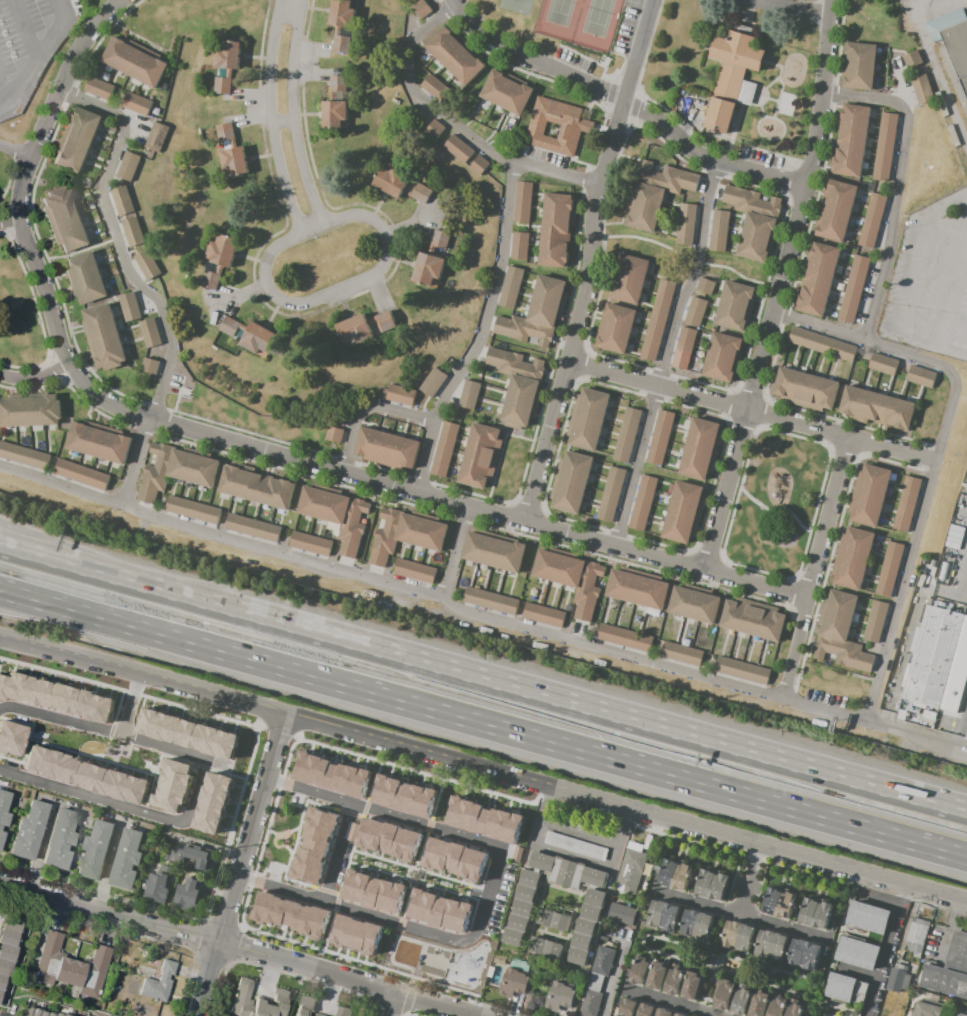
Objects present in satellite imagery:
park: (515, 6)
road: (794, 7)
building: (421, 8)
park: (562, 12)
park: (600, 17)
building: (340, 23)
road: (21, 29)
parking lot: (28, 45)
building: (957, 52)
building: (455, 54)
road: (34, 57)
building: (912, 58)
building: (134, 61)
building: (226, 66)
building: (859, 66)
building: (732, 76)
road: (937, 77)
building: (435, 88)
building: (99, 89)
building: (922, 89)
building: (507, 93)
road: (417, 95)
road: (4, 96)
building: (137, 103)
road: (624, 104)
building: (335, 106)
road: (296, 114)
road: (272, 119)
building: (435, 128)
building: (576, 128)
building: (158, 137)
building: (76, 139)
building: (850, 140)
road: (17, 147)
building: (885, 147)
building: (458, 148)
building: (231, 152)
building: (128, 165)
building: (479, 165)
road: (555, 175)
building: (667, 175)
road: (898, 182)
building: (401, 185)
building: (122, 200)
building: (523, 202)
building: (643, 206)
building: (835, 210)
building: (64, 219)
road: (20, 221)
building: (753, 221)
building: (874, 221)
road: (10, 222)
building: (685, 225)
building: (556, 230)
building: (133, 231)
building: (719, 231)
road: (118, 245)
road: (280, 245)
building: (519, 245)
road: (689, 258)
building: (219, 259)
building: (431, 261)
road: (593, 261)
building: (147, 264)
road: (692, 277)
building: (817, 277)
building: (86, 278)
building: (629, 278)
parking lot: (931, 283)
road: (910, 284)
building: (510, 286)
building: (705, 286)
road: (781, 288)
building: (854, 288)
road: (950, 290)
building: (129, 306)
building: (734, 306)
building: (695, 312)
building: (537, 313)
building: (657, 319)
road: (820, 326)
building: (363, 327)
building: (615, 328)
building: (149, 333)
road: (481, 334)
building: (226, 335)
building: (250, 336)
building: (103, 337)
building: (824, 345)
building: (684, 348)
building: (724, 357)
building: (884, 365)
building: (150, 366)
road: (950, 374)
building: (923, 378)
road: (35, 379)
building: (432, 382)
building: (517, 385)
building: (807, 390)
building: (400, 394)
building: (470, 396)
road: (364, 408)
building: (878, 408)
building: (29, 410)
road: (752, 412)
building: (587, 419)
building: (334, 434)
building: (627, 434)
building: (660, 437)
building: (98, 441)
building: (701, 448)
building: (386, 449)
building: (445, 449)
building: (480, 455)
building: (23, 456)
road: (135, 464)
road: (635, 467)
building: (174, 470)
building: (81, 475)
building: (570, 482)
building: (256, 486)
road: (61, 487)
building: (610, 494)
building: (868, 495)
building: (643, 502)
park: (779, 504)
building: (906, 504)
road: (477, 510)
building: (683, 511)
road: (776, 511)
building: (195, 512)
building: (335, 514)
road: (828, 519)
building: (254, 530)
building: (405, 533)
building: (954, 540)
building: (313, 545)
parking lot: (957, 550)
building: (493, 552)
road: (457, 555)
building: (853, 557)
road: (102, 562)
building: (889, 569)
building: (414, 570)
building: (943, 571)
building: (931, 572)
road: (102, 574)
building: (571, 577)
building: (920, 580)
building: (636, 588)
road: (901, 594)
building: (491, 601)
road: (450, 604)
building: (693, 604)
building: (903, 610)
building: (543, 615)
building: (753, 618)
building: (875, 621)
building: (840, 633)
building: (624, 638)
building: (870, 647)
road: (793, 651)
building: (681, 653)
building: (931, 655)
building: (742, 670)
building: (54, 697)
road: (130, 706)
road: (585, 707)
road: (823, 713)
building: (901, 714)
building: (928, 714)
road: (61, 716)
building: (921, 720)
road: (483, 724)
road: (959, 726)
building: (187, 732)
building: (966, 735)
building: (10, 737)
road: (917, 739)
road: (310, 748)
road: (318, 750)
road: (334, 754)
road: (339, 756)
road: (354, 760)
road: (363, 763)
road: (389, 770)
road: (397, 772)
road: (483, 772)
building: (331, 774)
building: (84, 775)
road: (405, 775)
road: (420, 779)
road: (429, 781)
building: (170, 783)
road: (369, 789)
road: (298, 791)
road: (462, 792)
road: (470, 793)
building: (403, 795)
road: (486, 799)
road: (491, 799)
parking lot: (294, 800)
building: (212, 801)
road: (507, 804)
road: (515, 806)
building: (4, 808)
road: (304, 813)
road: (352, 814)
road: (160, 817)
building: (485, 819)
road: (302, 822)
road: (428, 824)
building: (29, 830)
road: (288, 830)
road: (272, 832)
road: (288, 832)
building: (353, 832)
road: (581, 835)
road: (298, 837)
building: (2, 838)
building: (387, 838)
building: (61, 840)
road: (296, 842)
building: (314, 845)
road: (277, 846)
building: (574, 846)
road: (286, 847)
building: (96, 850)
road: (363, 850)
road: (333, 851)
road: (380, 851)
road: (371, 852)
building: (191, 856)
road: (379, 856)
road: (292, 858)
building: (454, 858)
road: (395, 859)
building: (127, 861)
road: (403, 861)
parking lot: (342, 862)
road: (335, 863)
road: (238, 866)
road: (289, 866)
building: (631, 866)
road: (358, 868)
road: (376, 869)
road: (366, 870)
road: (429, 870)
road: (446, 870)
building: (567, 871)
parking lot: (273, 872)
road: (428, 872)
road: (437, 872)
road: (374, 873)
road: (445, 875)
building: (674, 875)
road: (389, 877)
road: (461, 878)
building: (530, 878)
road: (398, 879)
road: (411, 879)
road: (747, 880)
building: (159, 882)
road: (271, 883)
building: (711, 884)
road: (424, 886)
road: (432, 889)
road: (490, 889)
building: (372, 890)
road: (466, 890)
road: (440, 893)
building: (525, 893)
road: (461, 894)
road: (481, 894)
road: (455, 896)
building: (190, 897)
building: (595, 897)
parking lot: (498, 900)
building: (779, 903)
road: (404, 905)
building: (522, 908)
building: (440, 909)
building: (591, 912)
building: (816, 912)
building: (621, 913)
road: (744, 915)
building: (290, 916)
building: (663, 916)
building: (868, 917)
building: (553, 919)
road: (330, 921)
building: (518, 922)
building: (696, 925)
road: (258, 926)
building: (585, 926)
road: (266, 928)
road: (281, 933)
road: (287, 934)
building: (357, 935)
building: (918, 935)
building: (513, 936)
building: (738, 937)
road: (303, 938)
road: (311, 941)
building: (581, 941)
building: (771, 945)
road: (236, 947)
road: (337, 948)
building: (545, 948)
building: (8, 950)
road: (345, 950)
road: (886, 951)
building: (858, 953)
road: (355, 954)
road: (363, 955)
building: (803, 955)
building: (577, 956)
building: (498, 959)
park: (442, 960)
building: (603, 961)
building: (73, 967)
road: (616, 967)
building: (639, 970)
building: (950, 971)
building: (657, 975)
building: (674, 980)
building: (900, 981)
building: (159, 982)
building: (511, 982)
building: (595, 982)
building: (693, 985)
building: (846, 988)
building: (723, 993)
building: (560, 996)
building: (256, 1001)
building: (741, 1001)
road: (386, 1003)
building: (590, 1003)
road: (671, 1003)
building: (758, 1004)
building: (305, 1006)
building: (628, 1007)
building: (777, 1007)
building: (645, 1009)
building: (794, 1009)
building: (930, 1009)
building: (343, 1011)
building: (662, 1012)
building: (40, 1013)
building: (961, 1013)
building: (680, 1014)
road: (0, 1015)
road: (467, 1015)
road: (710, 1015)

